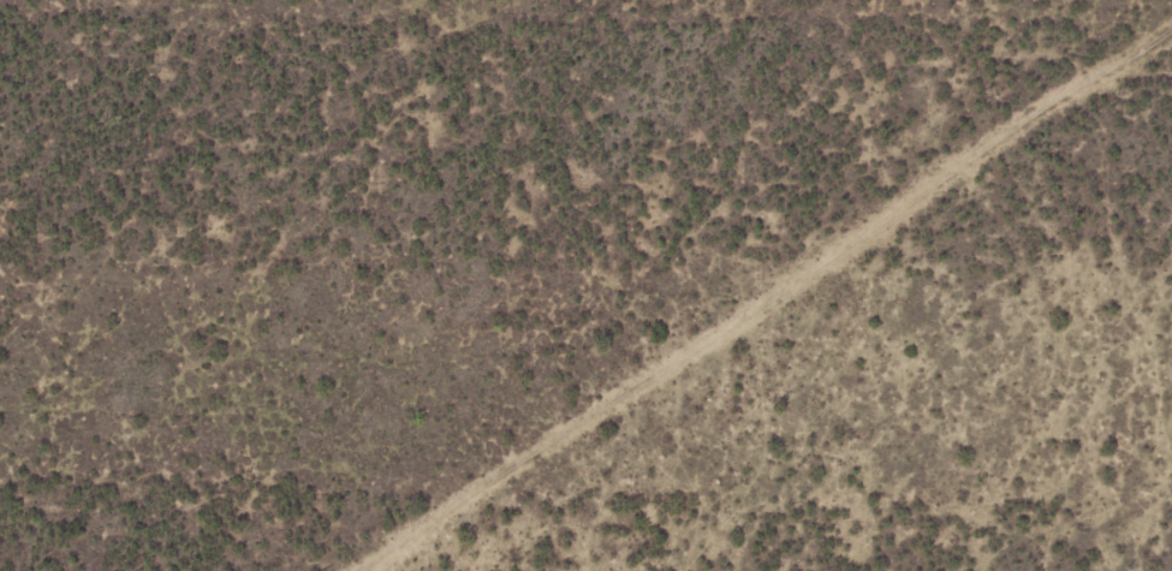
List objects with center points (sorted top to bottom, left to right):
road: (761, 322)

